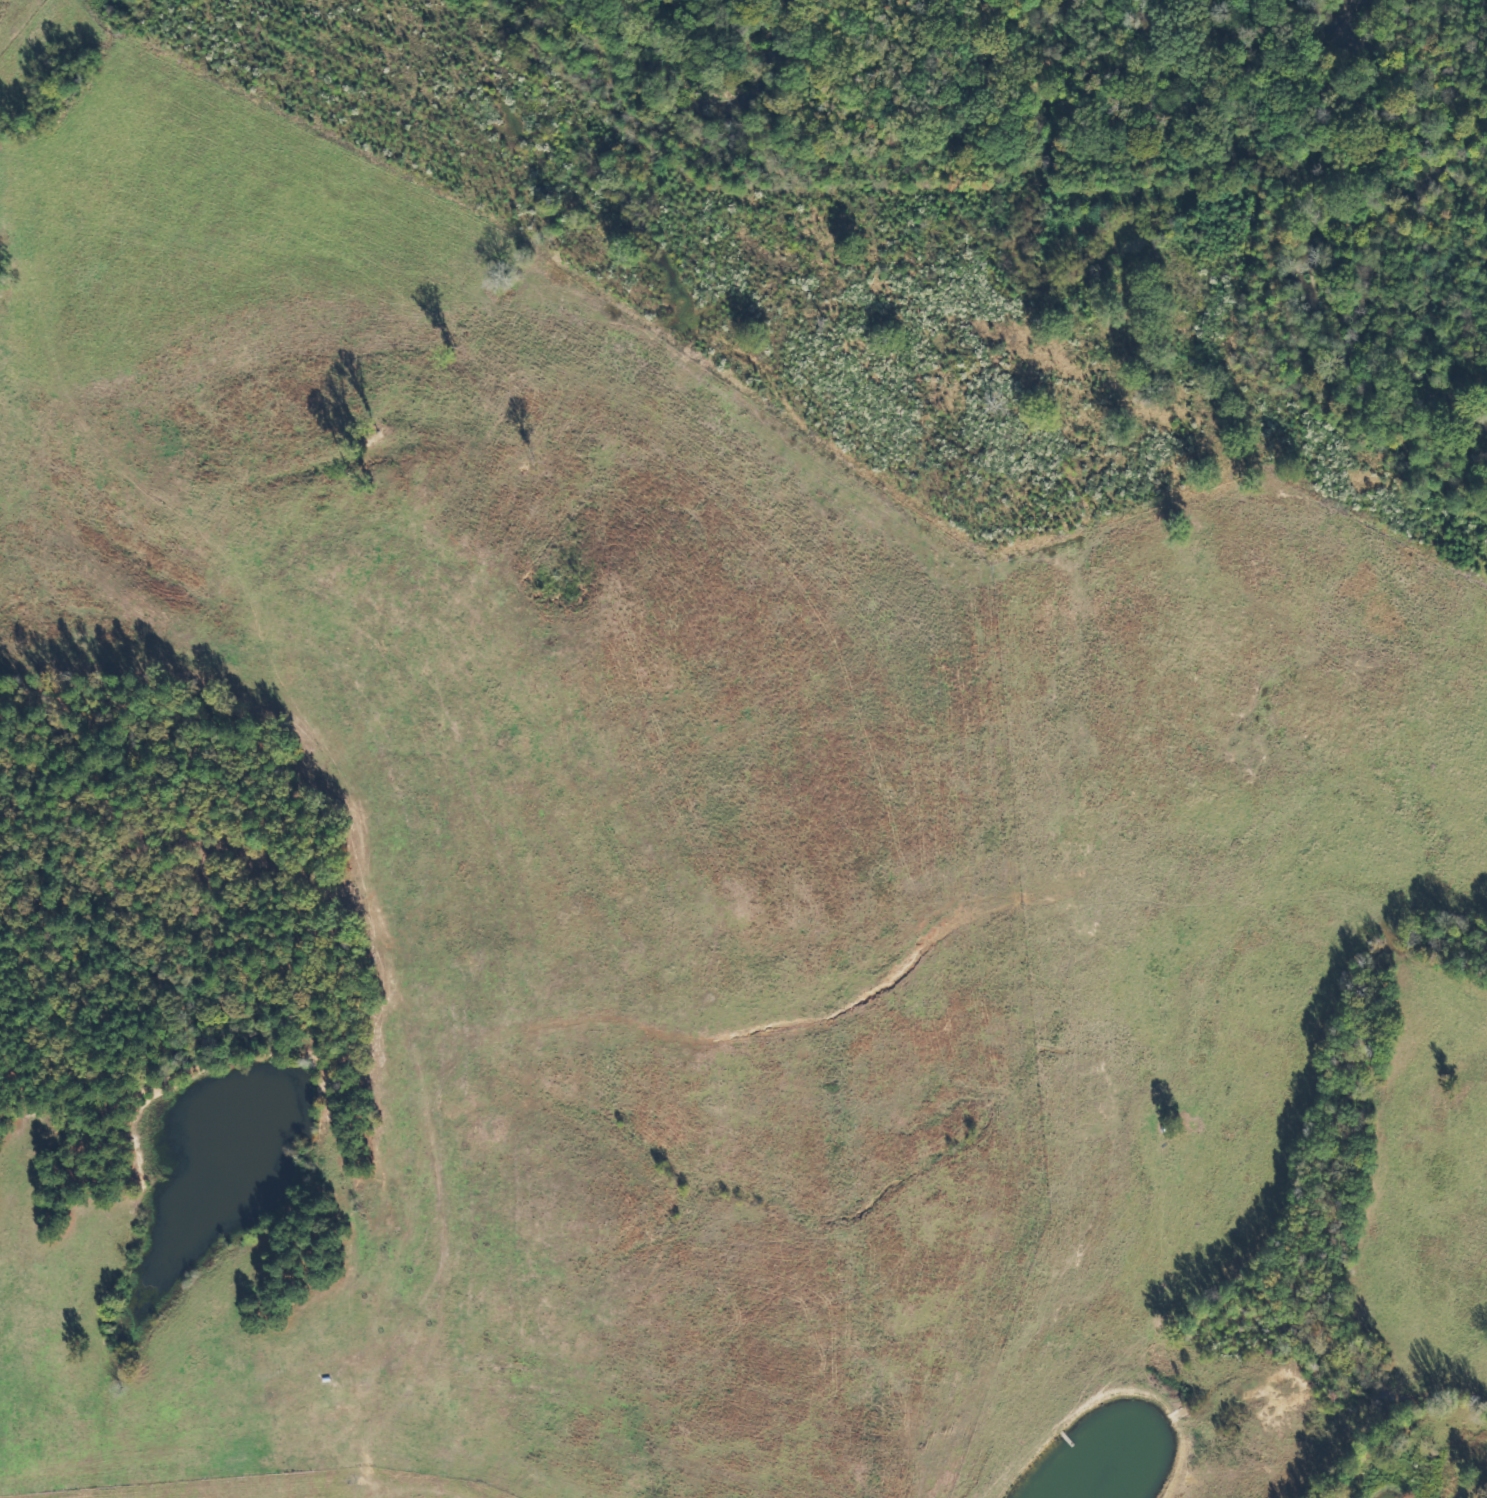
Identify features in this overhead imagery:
road: (1424, 1127)

